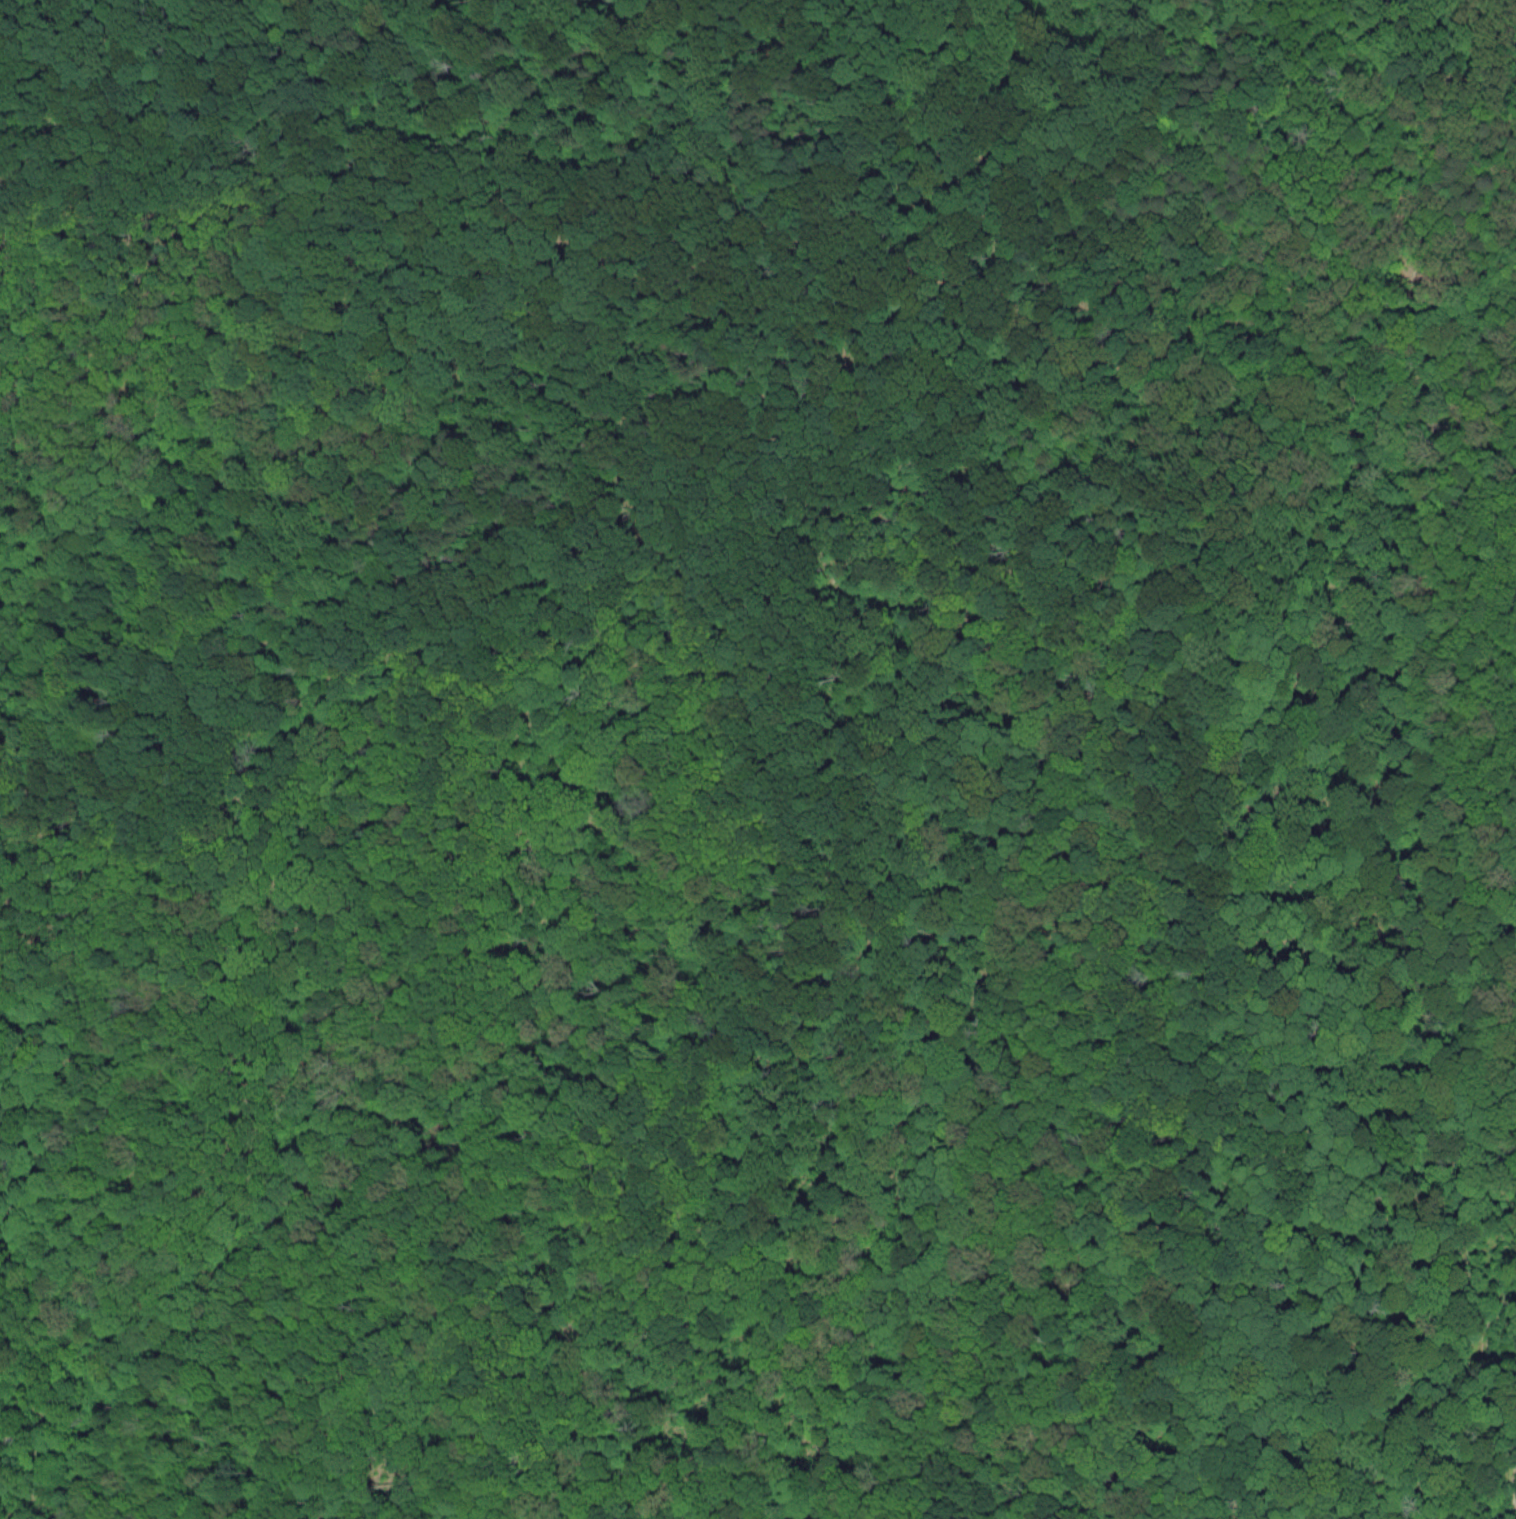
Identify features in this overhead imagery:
road: (1391, 72)
road: (397, 160)
road: (1197, 675)

